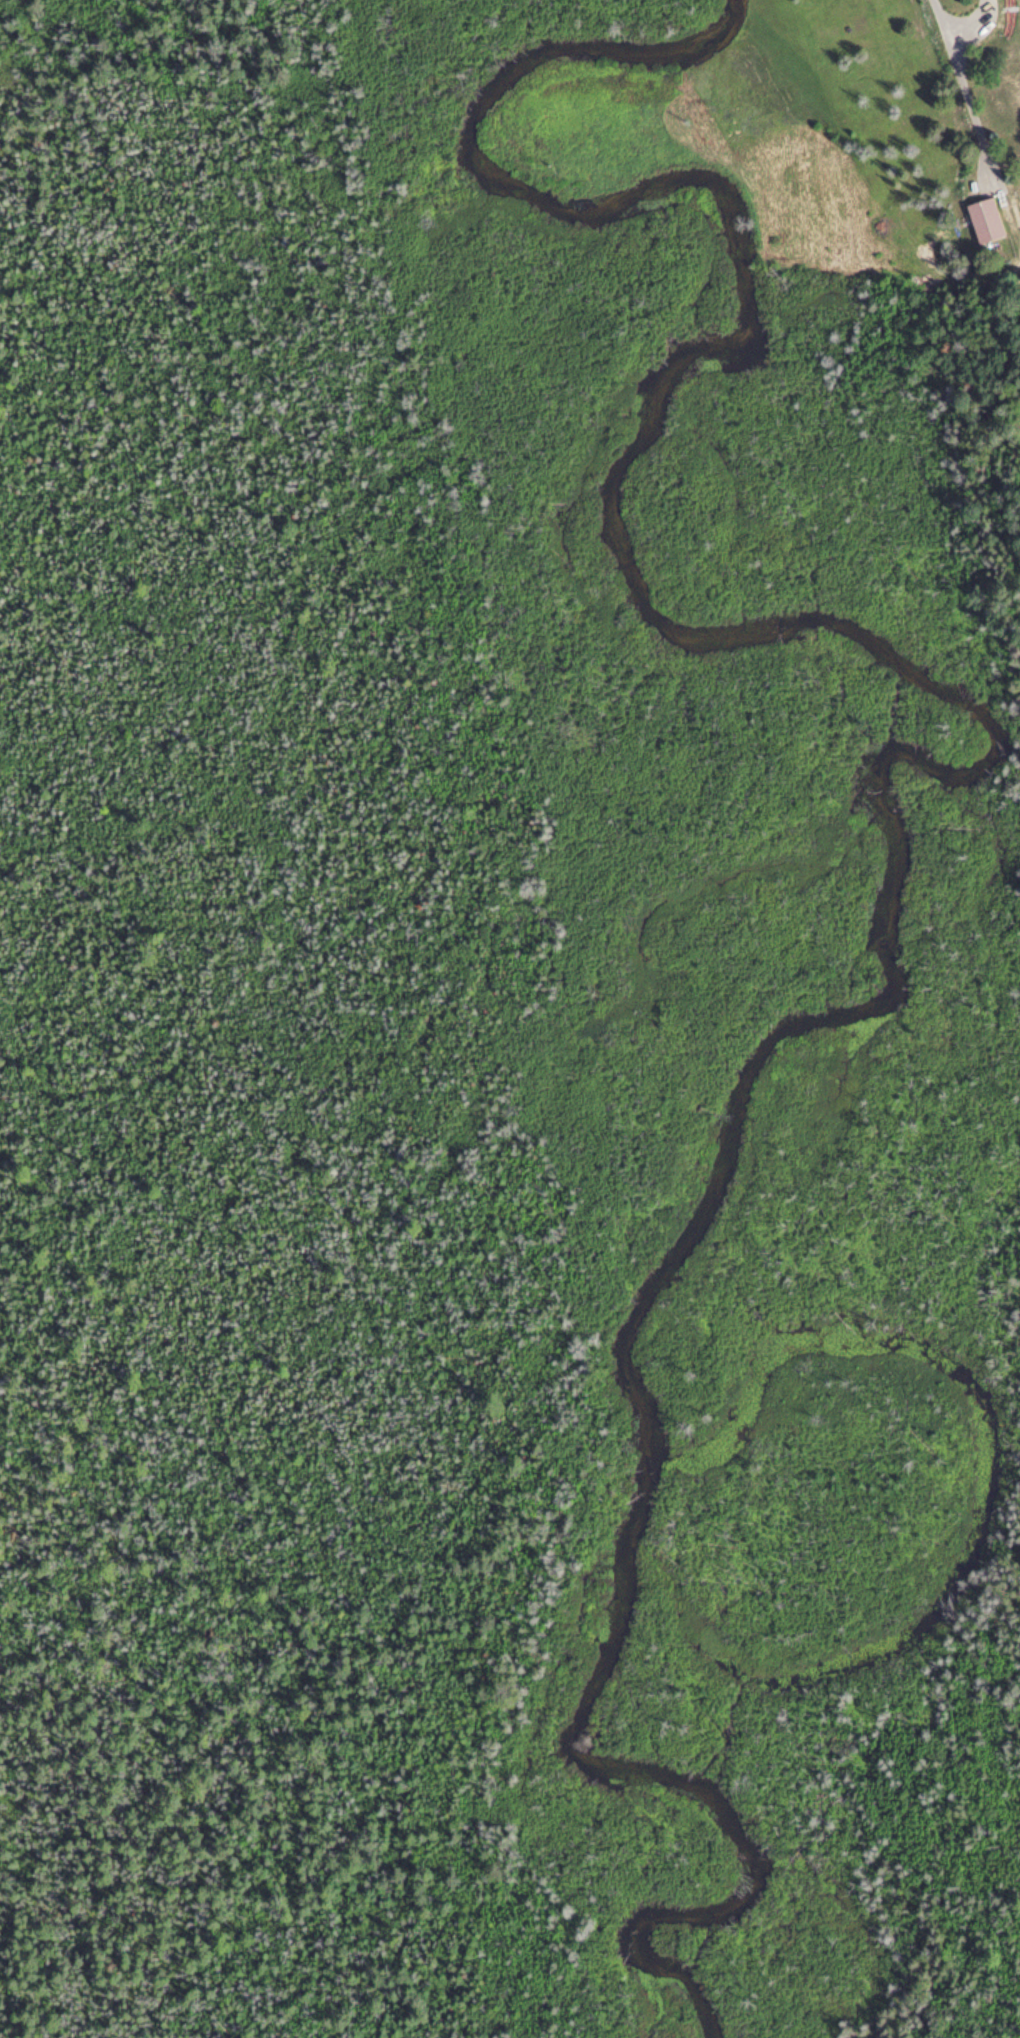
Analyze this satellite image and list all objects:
road: (973, 27)
road: (964, 94)
building: (985, 216)
river: (728, 1145)
river: (649, 1498)

